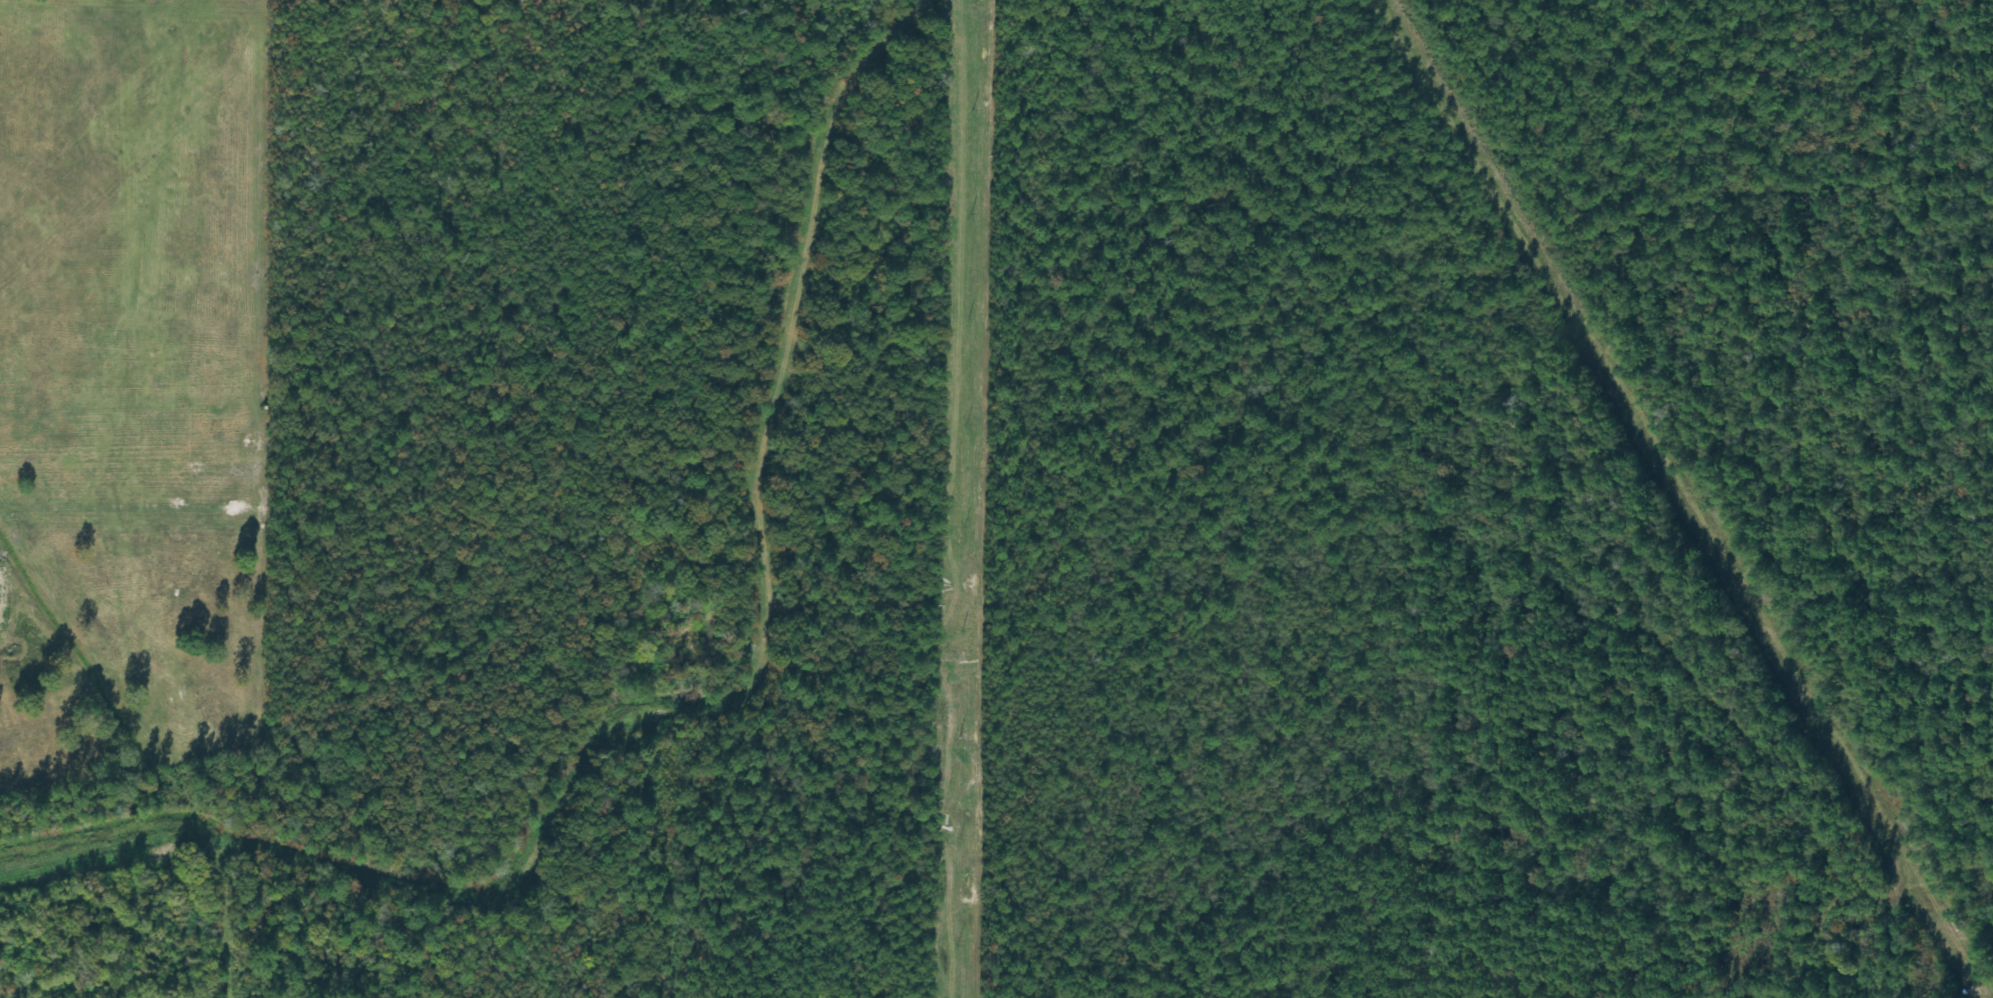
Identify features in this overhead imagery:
road: (656, 867)
road: (181, 923)
road: (1924, 995)

